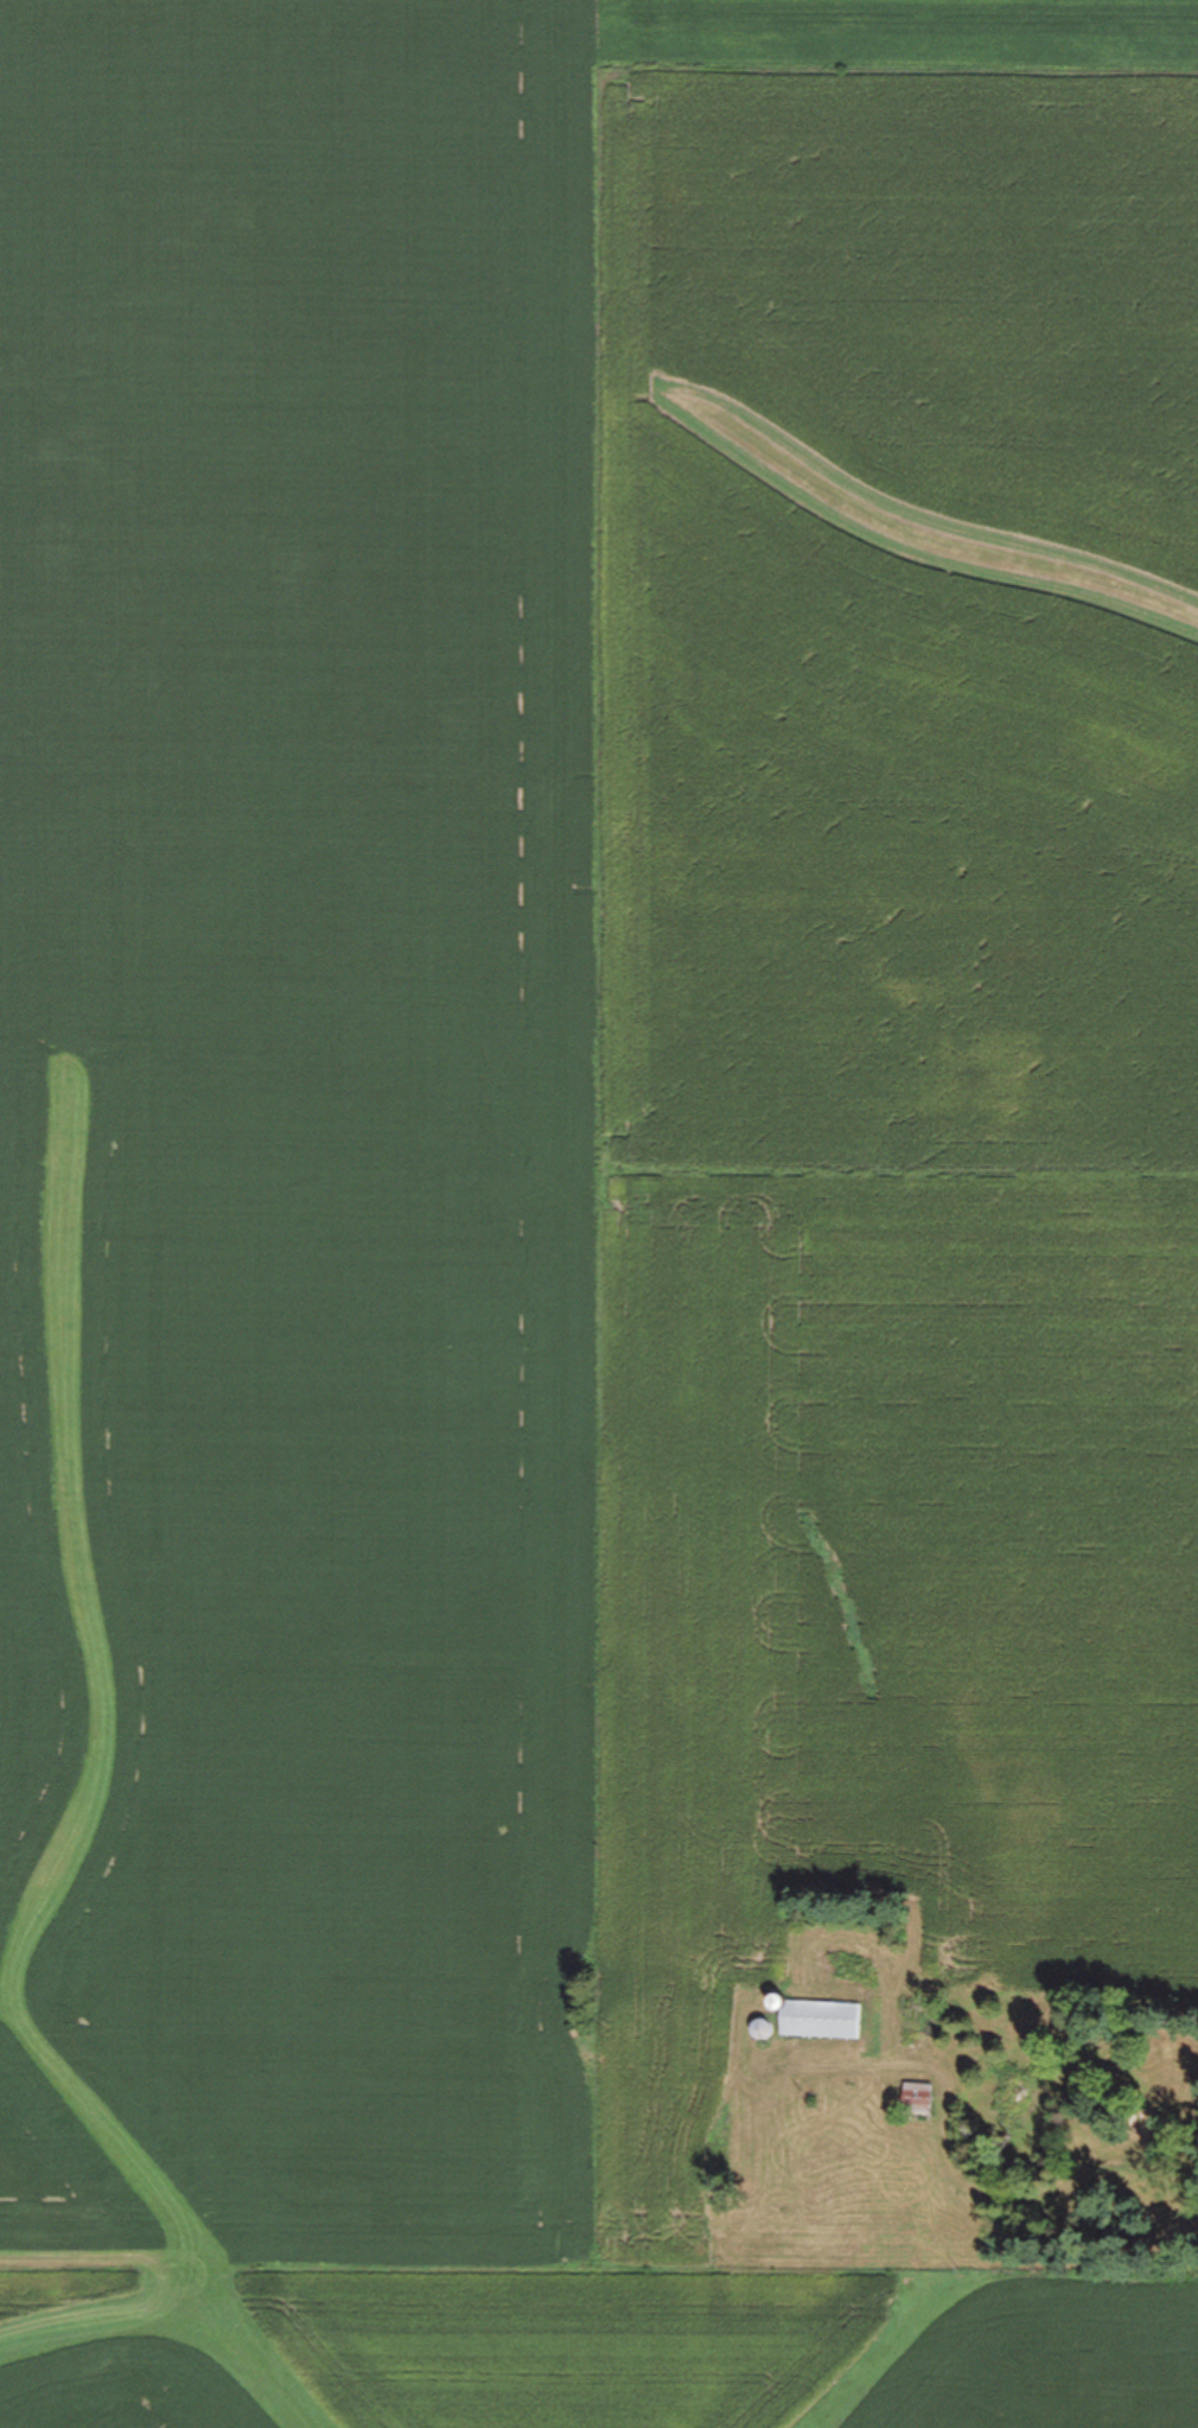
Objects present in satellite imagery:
building: (820, 2020)
building: (909, 2039)
building: (1013, 2092)
building: (917, 2099)
building: (1138, 2122)
building: (715, 2162)
road: (1071, 2187)

